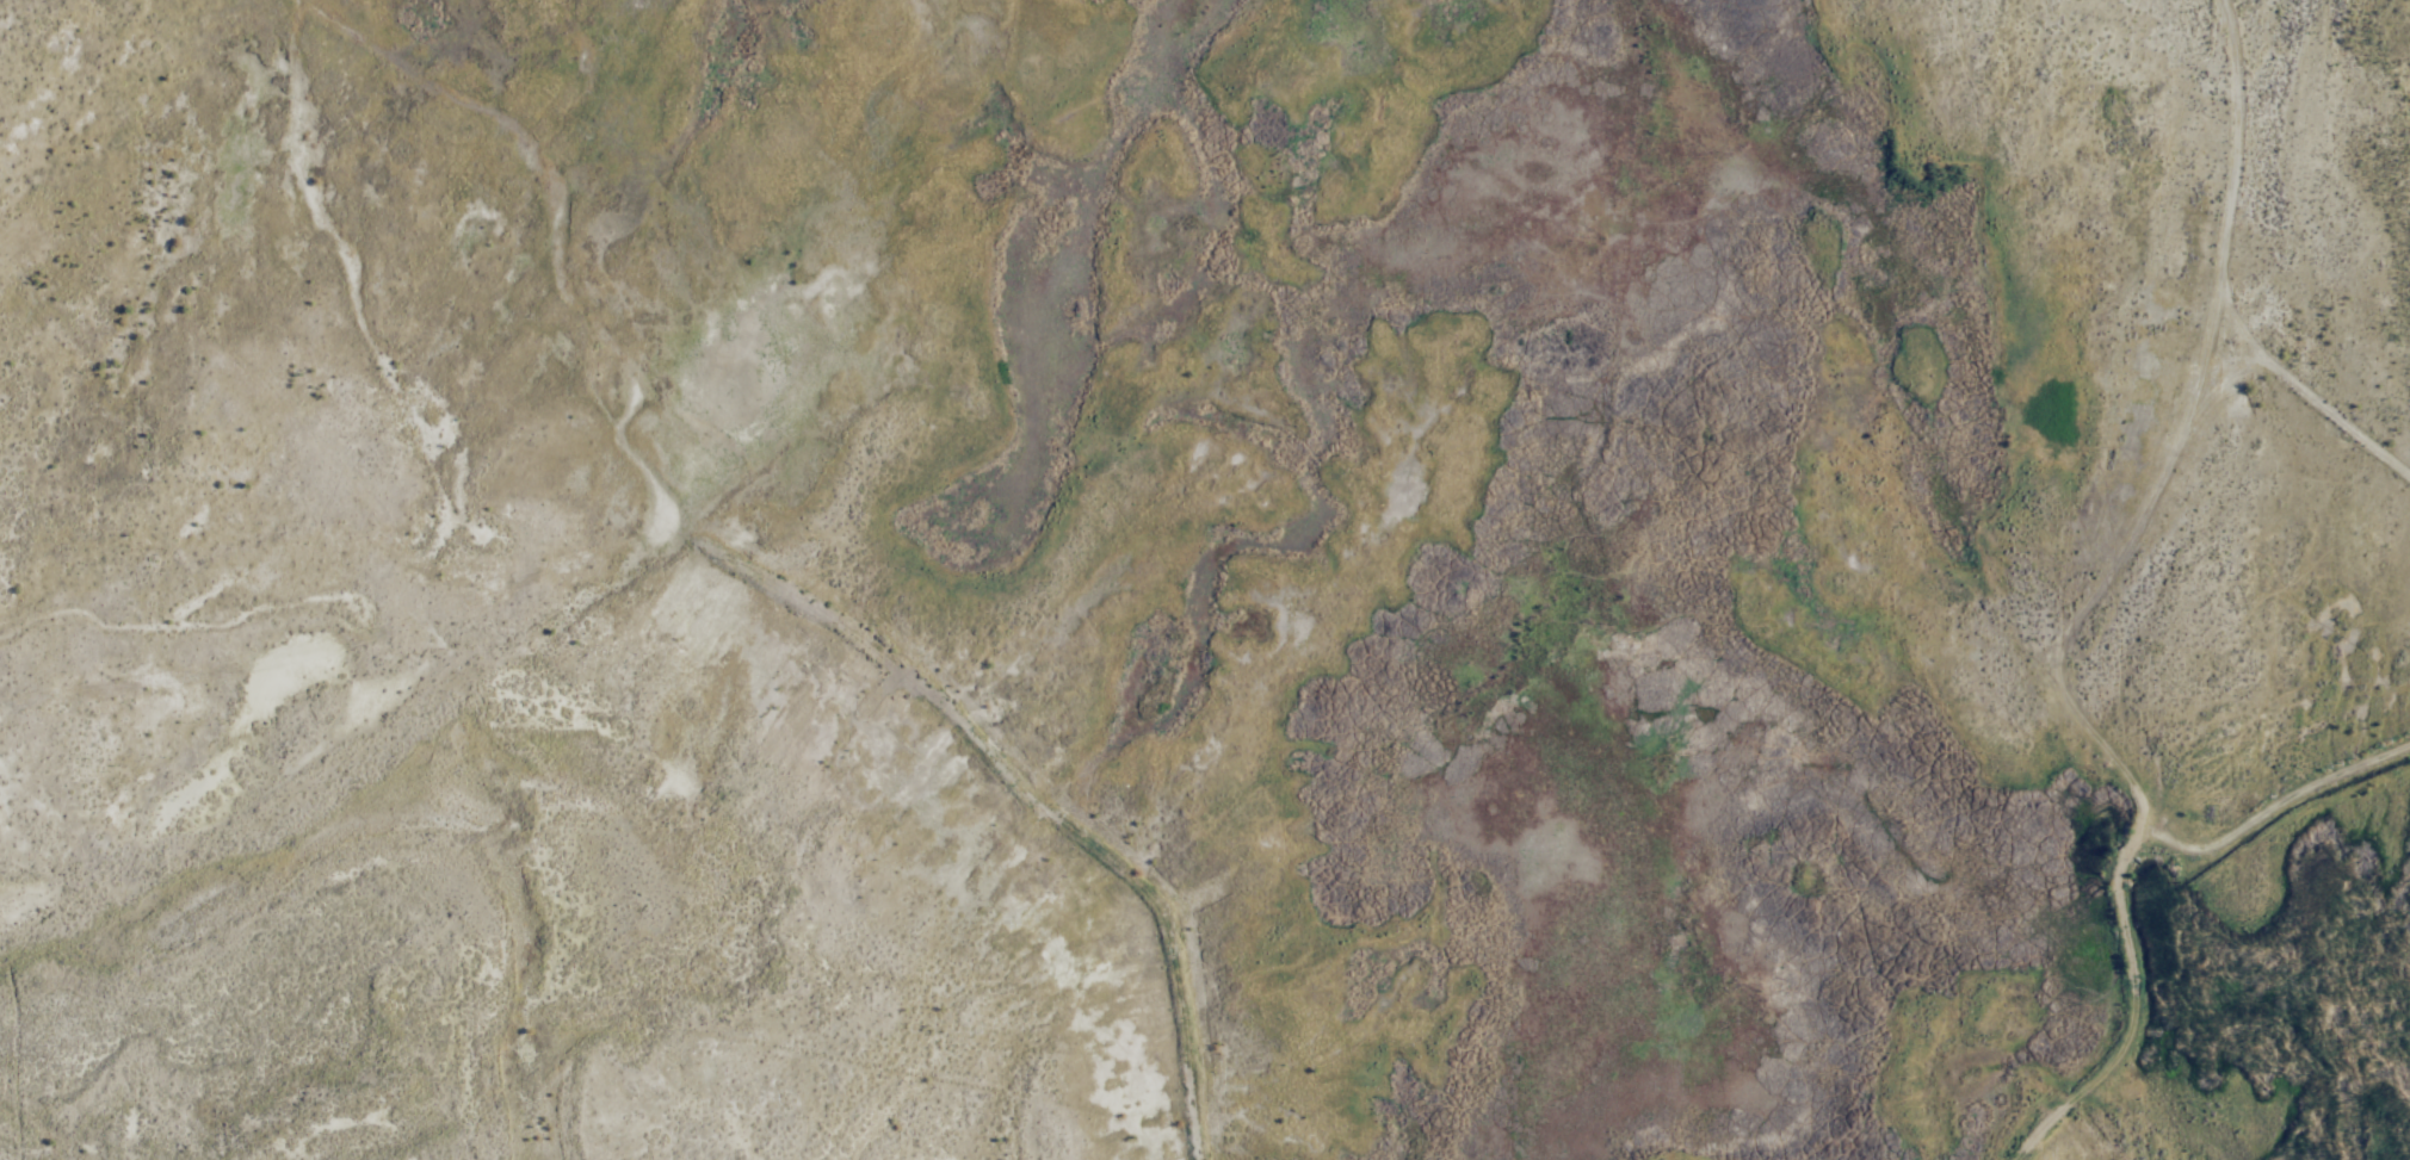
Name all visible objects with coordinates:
road: (2223, 279)
road: (2078, 712)
road: (2117, 1006)

